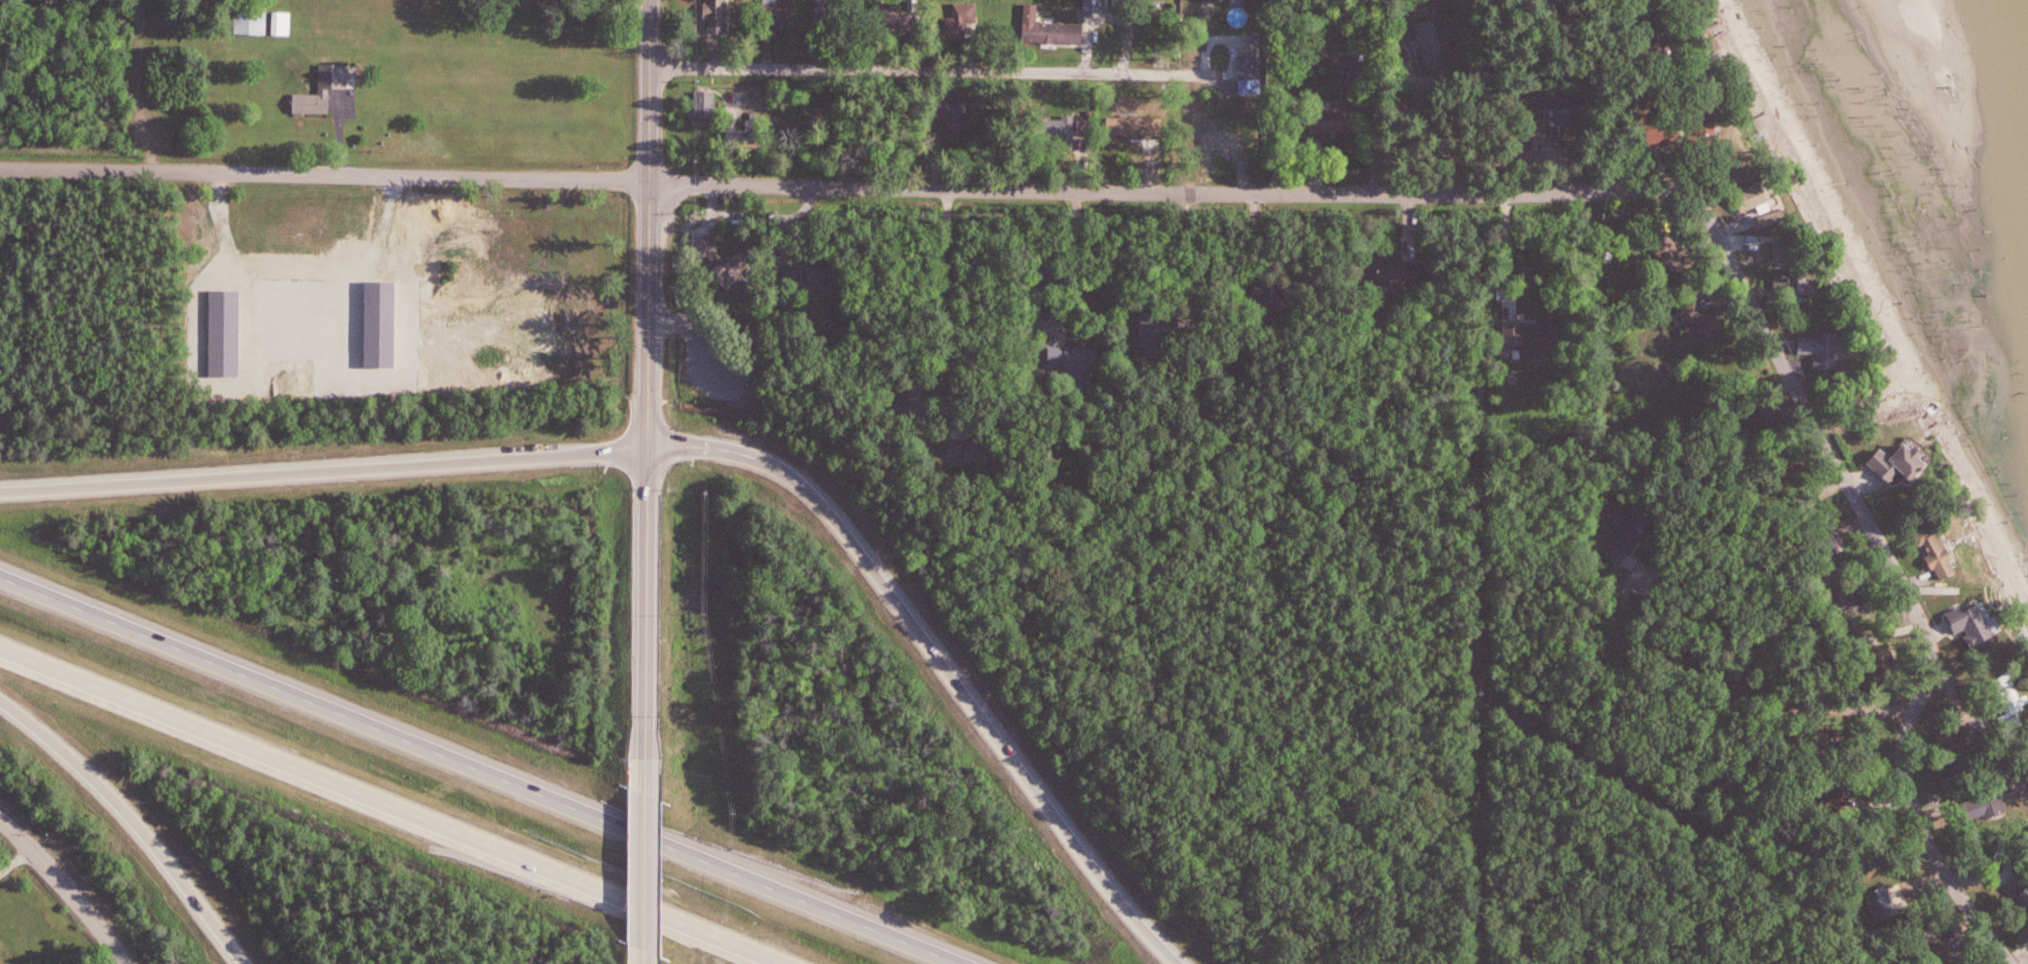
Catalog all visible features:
building: (1094, 6)
building: (825, 12)
building: (778, 15)
building: (718, 17)
building: (892, 19)
building: (962, 20)
building: (250, 22)
river: (2022, 23)
building: (282, 24)
building: (1051, 30)
building: (1432, 45)
road: (936, 71)
building: (326, 93)
building: (705, 106)
building: (1569, 114)
building: (957, 117)
building: (1333, 123)
building: (1135, 128)
building: (1061, 129)
building: (1229, 137)
road: (326, 176)
road: (1168, 191)
building: (1766, 200)
building: (701, 248)
building: (1793, 250)
building: (1675, 255)
building: (733, 269)
building: (1393, 273)
building: (790, 276)
building: (825, 279)
building: (1796, 287)
building: (1275, 296)
building: (1704, 323)
building: (1160, 332)
building: (1535, 338)
road: (949, 340)
building: (1830, 351)
building: (1079, 365)
road: (646, 386)
building: (973, 451)
building: (1905, 462)
road: (322, 471)
building: (1630, 534)
building: (1943, 553)
road: (1896, 572)
building: (1977, 623)
road: (937, 659)
road: (1680, 662)
building: (2015, 698)
road: (1862, 708)
road: (1967, 728)
road: (480, 771)
building: (1959, 783)
road: (390, 806)
building: (1989, 806)
road: (133, 821)
road: (15, 855)
road: (645, 868)
building: (2022, 885)
road: (65, 887)
building: (0, 954)

